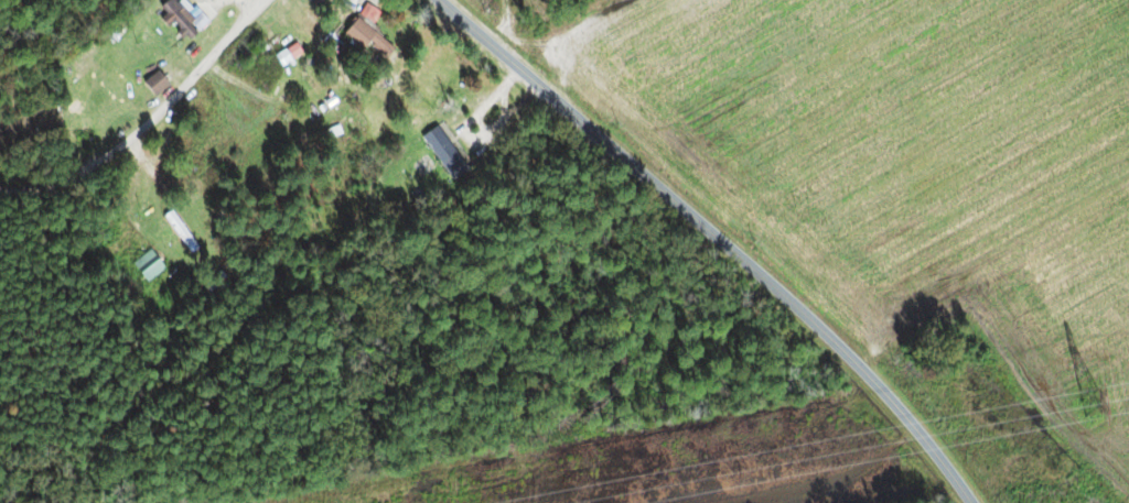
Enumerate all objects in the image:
building: (178, 20)
building: (364, 31)
building: (152, 84)
building: (444, 151)
road: (175, 203)
building: (179, 230)
road: (710, 234)
building: (147, 266)
power tower: (1088, 400)

